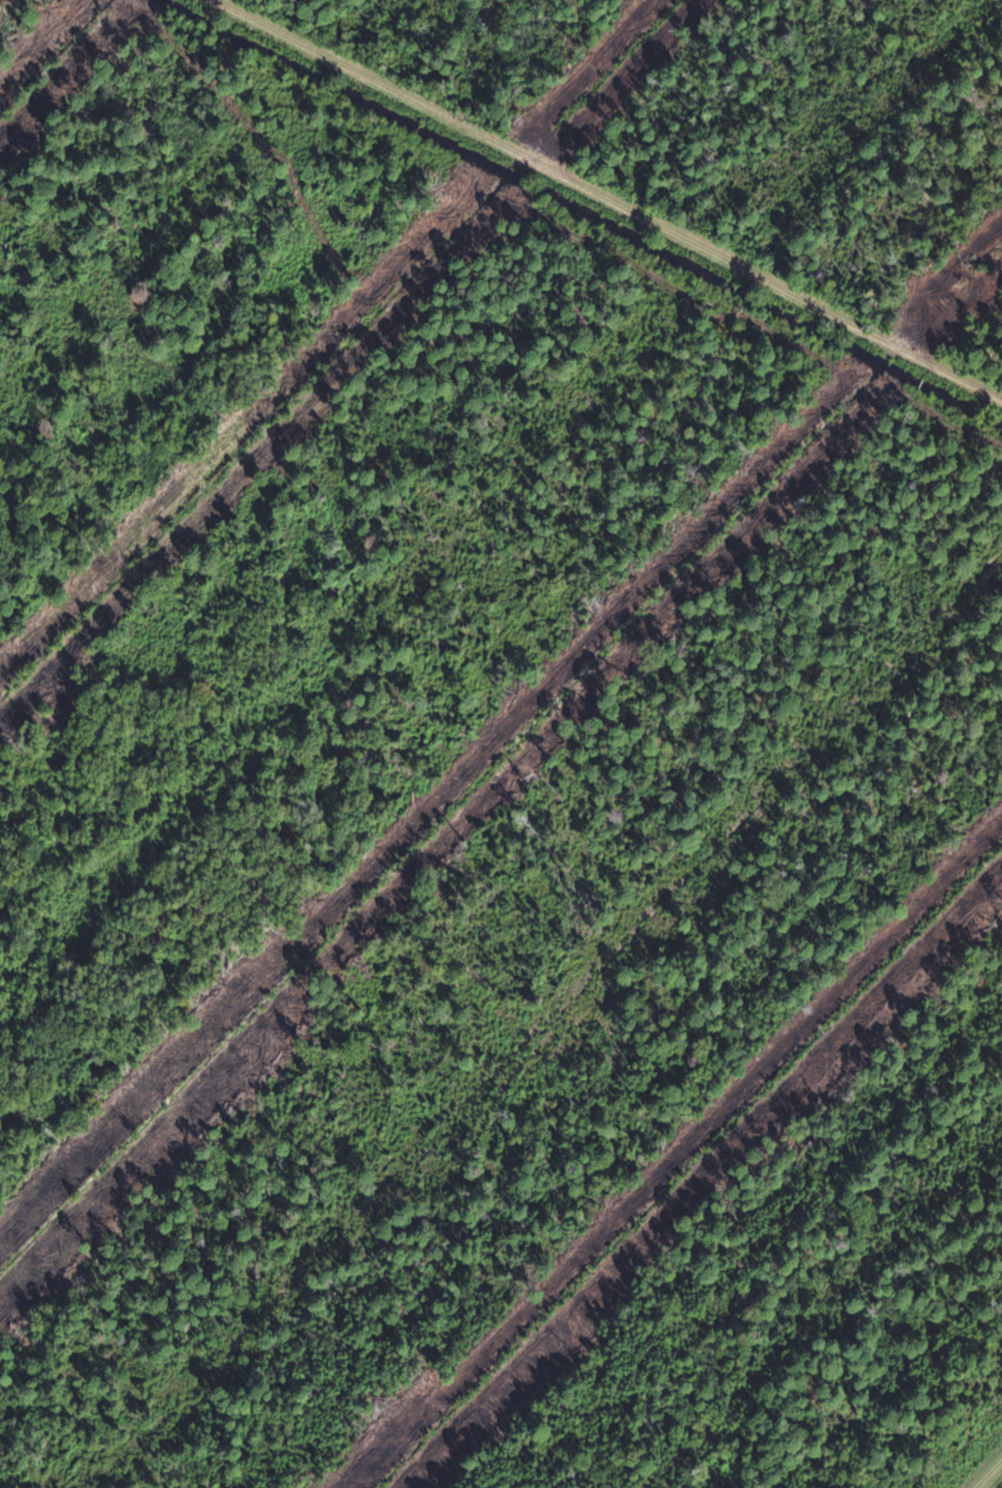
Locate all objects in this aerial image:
road: (549, 211)
road: (992, 1478)

